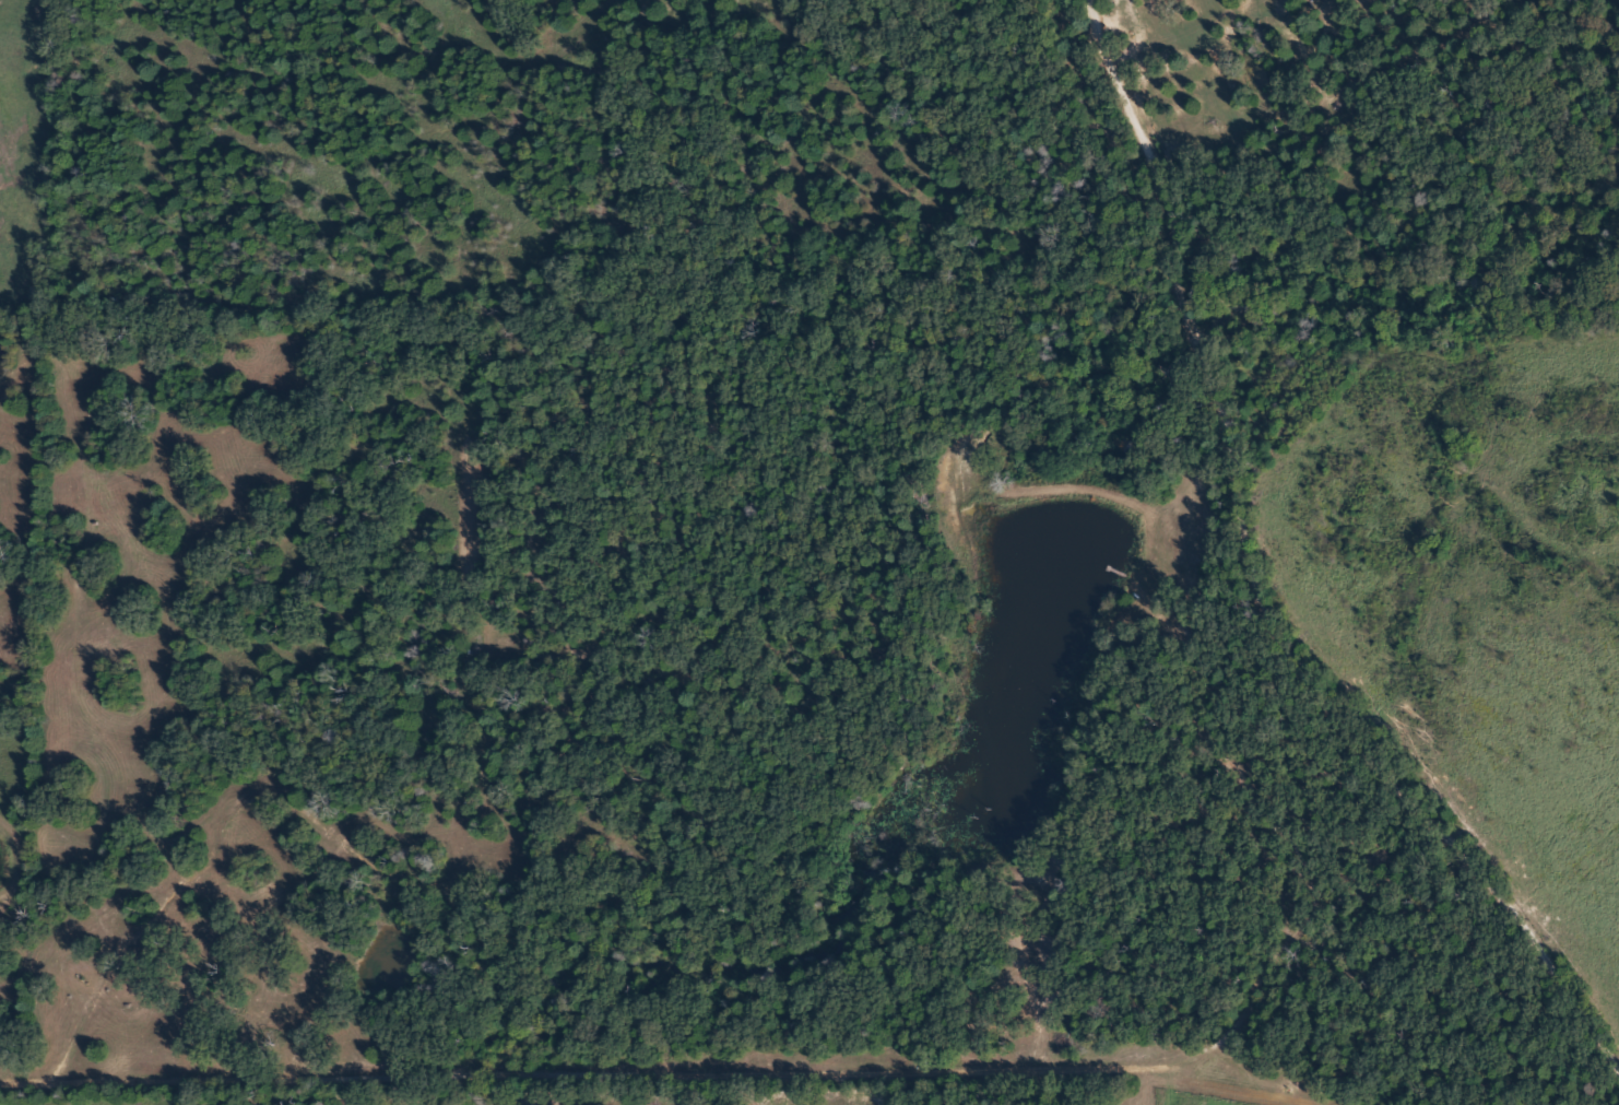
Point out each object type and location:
road: (1236, 584)

